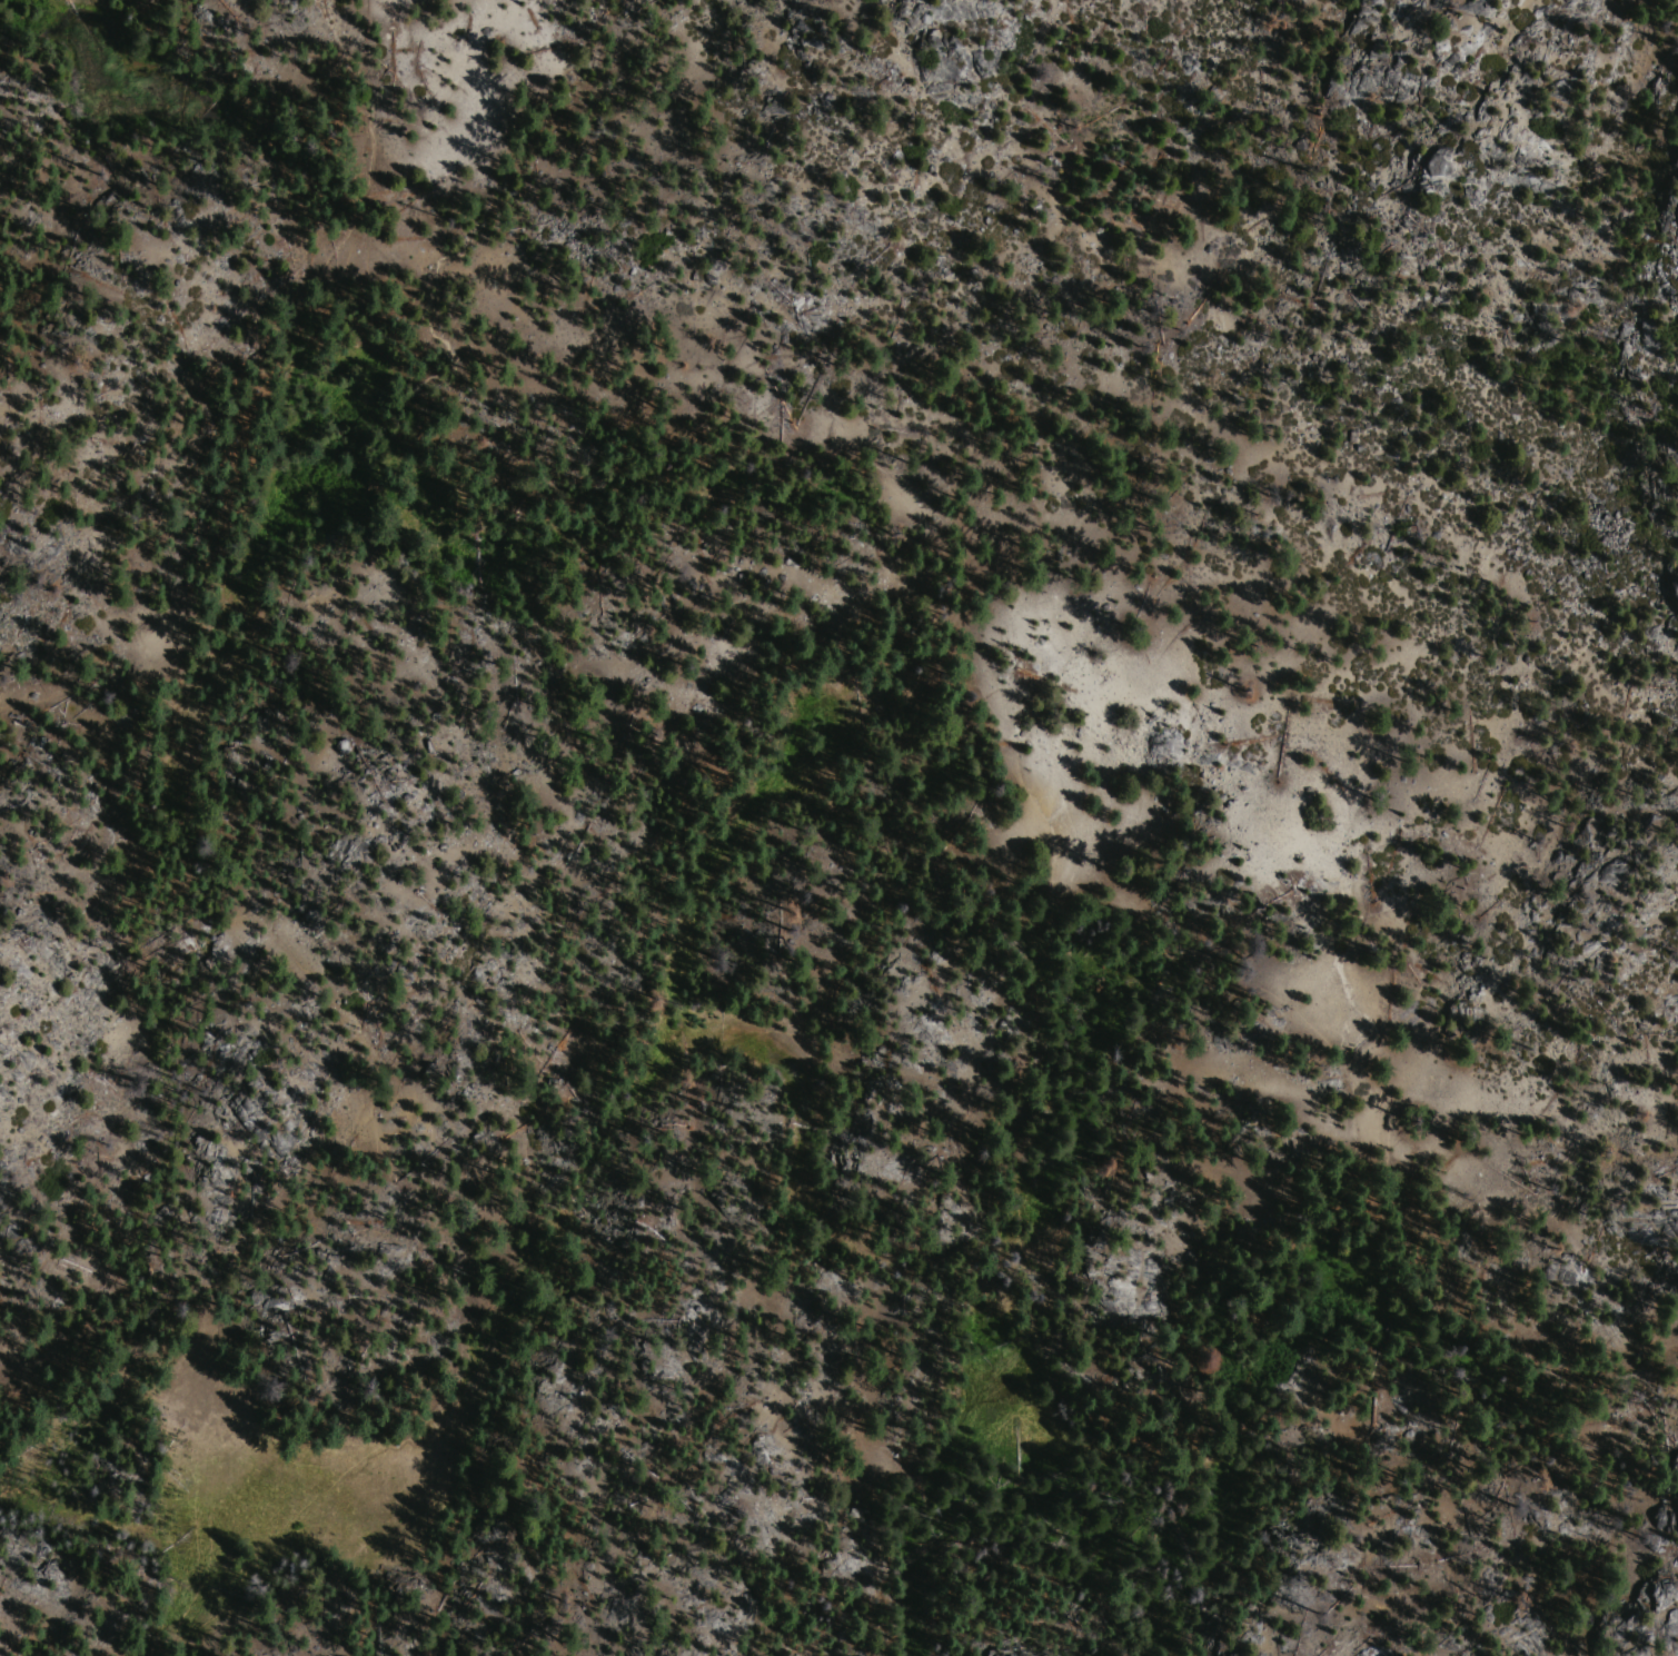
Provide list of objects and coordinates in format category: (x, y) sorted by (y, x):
road: (658, 395)
road: (892, 774)

